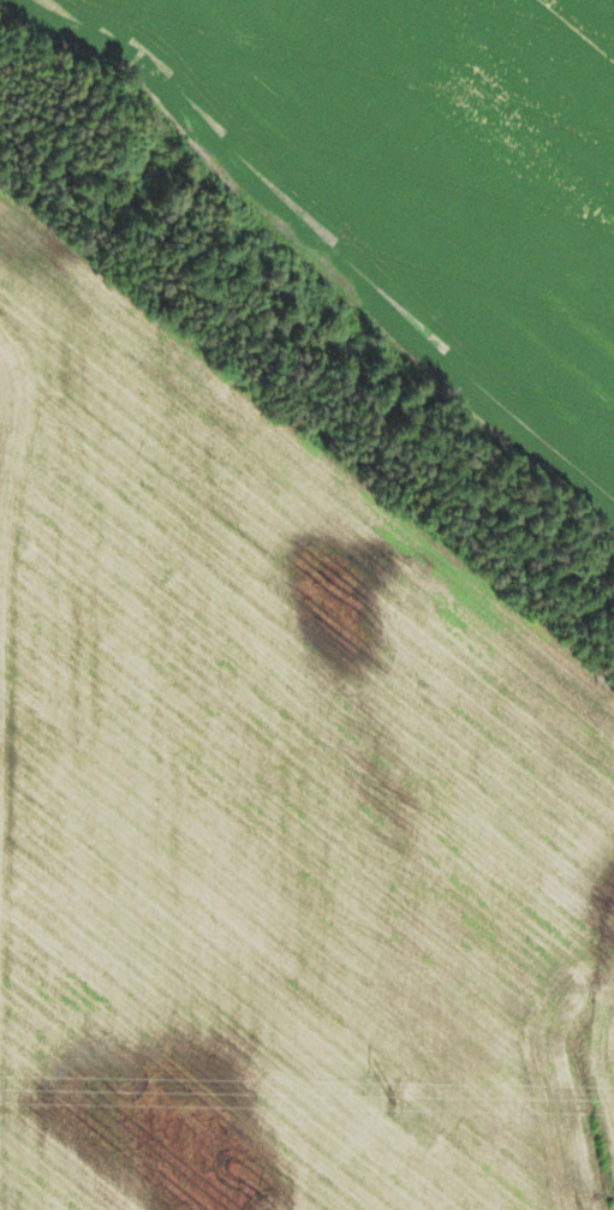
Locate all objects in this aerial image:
power tower: (387, 1097)

